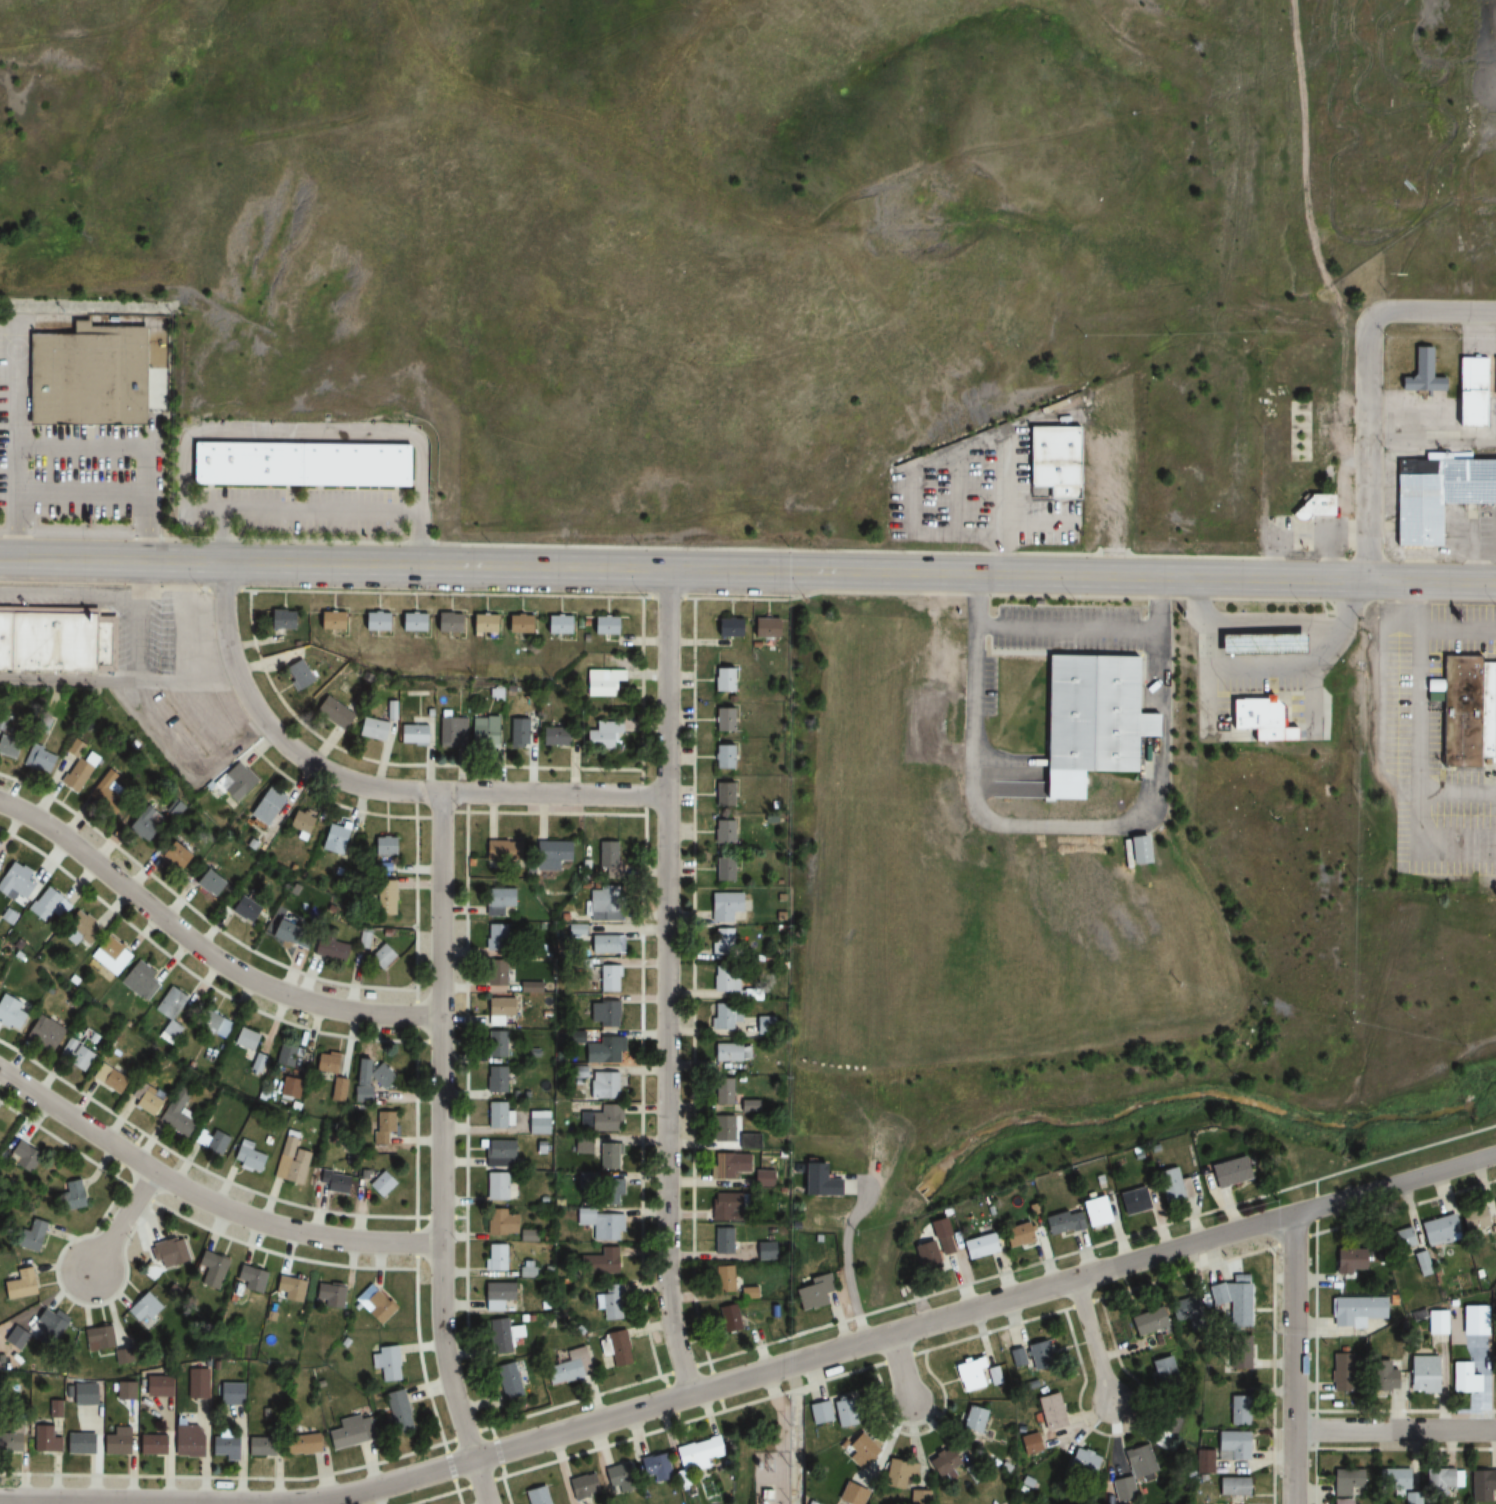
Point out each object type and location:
road: (1432, 314)
building: (1420, 374)
building: (1493, 376)
building: (86, 381)
building: (1470, 392)
road: (1366, 447)
building: (1052, 461)
building: (294, 464)
building: (1435, 494)
building: (1313, 506)
road: (748, 568)
road: (1437, 601)
building: (278, 620)
building: (325, 621)
building: (373, 622)
building: (407, 623)
building: (445, 623)
building: (480, 624)
building: (514, 624)
building: (554, 624)
building: (602, 625)
building: (726, 628)
building: (760, 628)
building: (52, 640)
building: (1255, 644)
gas station: (1255, 644)
building: (1314, 644)
building: (296, 674)
building: (721, 680)
road: (120, 682)
building: (599, 682)
building: (331, 712)
building: (1470, 713)
building: (1091, 715)
building: (722, 720)
building: (1255, 720)
building: (373, 730)
building: (483, 731)
building: (450, 732)
building: (516, 733)
building: (411, 735)
building: (600, 735)
building: (553, 736)
building: (11, 746)
building: (721, 757)
building: (43, 760)
building: (81, 769)
building: (234, 783)
road: (370, 787)
building: (110, 793)
building: (722, 795)
building: (263, 807)
building: (297, 824)
building: (149, 828)
building: (723, 831)
building: (331, 839)
building: (381, 846)
building: (1132, 850)
building: (499, 851)
building: (180, 854)
building: (605, 855)
building: (548, 857)
building: (1, 864)
building: (723, 870)
building: (19, 881)
building: (212, 882)
building: (382, 896)
building: (496, 901)
building: (600, 904)
building: (53, 905)
building: (723, 905)
building: (243, 908)
building: (11, 915)
building: (87, 932)
building: (288, 934)
building: (495, 938)
building: (721, 941)
building: (602, 944)
building: (327, 945)
road: (203, 949)
building: (114, 954)
building: (379, 958)
building: (495, 973)
building: (605, 979)
building: (723, 979)
road: (666, 981)
building: (141, 982)
building: (167, 1003)
building: (497, 1009)
building: (10, 1013)
building: (602, 1014)
building: (726, 1015)
building: (763, 1023)
building: (212, 1024)
building: (42, 1033)
building: (243, 1038)
building: (499, 1044)
building: (602, 1049)
building: (75, 1050)
building: (730, 1052)
building: (284, 1056)
building: (325, 1062)
building: (106, 1077)
building: (367, 1077)
building: (494, 1079)
building: (602, 1085)
building: (287, 1086)
building: (336, 1089)
building: (724, 1091)
building: (142, 1098)
building: (174, 1113)
building: (496, 1115)
building: (601, 1119)
building: (536, 1122)
building: (381, 1127)
building: (723, 1128)
building: (209, 1141)
building: (746, 1141)
building: (581, 1145)
road: (440, 1151)
building: (497, 1153)
building: (607, 1155)
building: (20, 1157)
building: (246, 1157)
building: (289, 1160)
building: (720, 1166)
building: (1225, 1172)
building: (761, 1178)
building: (810, 1178)
building: (333, 1182)
building: (379, 1183)
building: (1170, 1185)
building: (494, 1186)
building: (608, 1191)
building: (70, 1194)
road: (204, 1199)
building: (1131, 1201)
building: (724, 1207)
building: (1080, 1215)
building: (1477, 1217)
road: (122, 1221)
building: (499, 1224)
building: (599, 1224)
building: (1437, 1229)
building: (1013, 1234)
building: (28, 1235)
building: (1403, 1237)
building: (720, 1240)
building: (942, 1245)
building: (976, 1245)
building: (762, 1249)
building: (169, 1253)
building: (495, 1257)
building: (923, 1257)
building: (1347, 1259)
building: (597, 1262)
building: (210, 1269)
building: (722, 1277)
building: (248, 1279)
building: (18, 1284)
building: (288, 1289)
building: (811, 1291)
building: (744, 1292)
building: (328, 1295)
building: (495, 1295)
building: (609, 1301)
building: (1231, 1302)
building: (373, 1305)
building: (141, 1307)
building: (1183, 1309)
building: (1355, 1310)
building: (727, 1317)
building: (1473, 1320)
building: (1435, 1321)
building: (1146, 1322)
building: (46, 1328)
building: (500, 1336)
building: (97, 1338)
road: (1093, 1341)
building: (614, 1348)
building: (1237, 1353)
building: (1036, 1355)
building: (1016, 1358)
road: (1295, 1359)
building: (384, 1362)
building: (1161, 1369)
building: (560, 1370)
road: (902, 1372)
building: (1339, 1372)
road: (754, 1374)
building: (966, 1374)
building: (1422, 1374)
building: (993, 1376)
building: (1383, 1377)
building: (1462, 1378)
building: (1494, 1378)
building: (507, 1379)
building: (195, 1383)
building: (81, 1394)
building: (228, 1394)
building: (1237, 1409)
building: (395, 1411)
building: (1048, 1411)
building: (818, 1412)
building: (972, 1420)
building: (1163, 1428)
building: (347, 1432)
road: (1396, 1432)
building: (117, 1437)
building: (42, 1438)
building: (184, 1441)
building: (9, 1442)
building: (78, 1443)
building: (300, 1443)
building: (1029, 1444)
building: (151, 1445)
building: (1231, 1445)
building: (223, 1446)
building: (258, 1446)
building: (858, 1450)
building: (694, 1455)
building: (1083, 1462)
building: (1204, 1462)
building: (941, 1463)
building: (655, 1466)
building: (1133, 1471)
building: (898, 1474)
building: (1391, 1478)
building: (599, 1482)
building: (1345, 1482)
building: (1440, 1483)
building: (1482, 1485)
building: (775, 1486)
building: (1231, 1486)
building: (851, 1494)
building: (535, 1496)
building: (918, 1497)
building: (1341, 1501)
building: (1236, 1503)

